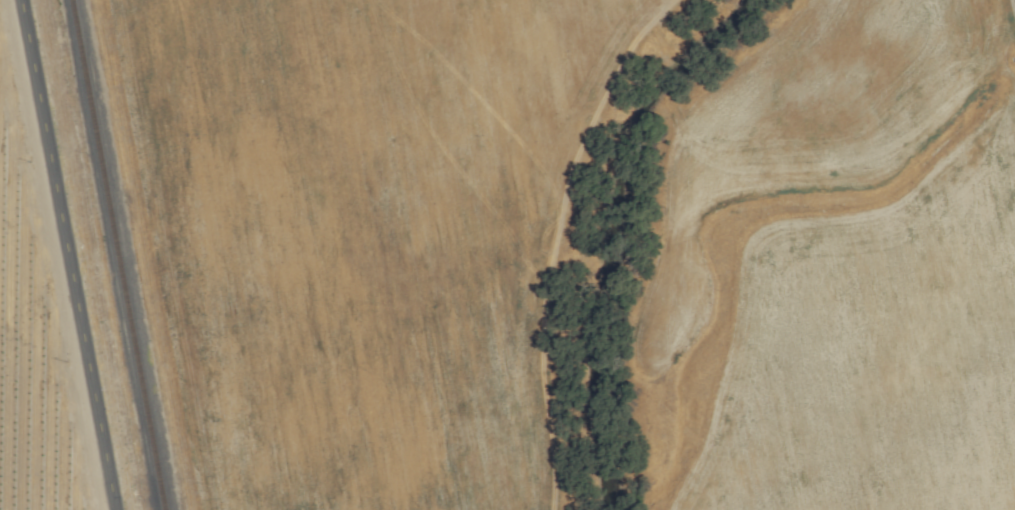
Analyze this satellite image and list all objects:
road: (66, 255)
railway: (116, 255)

